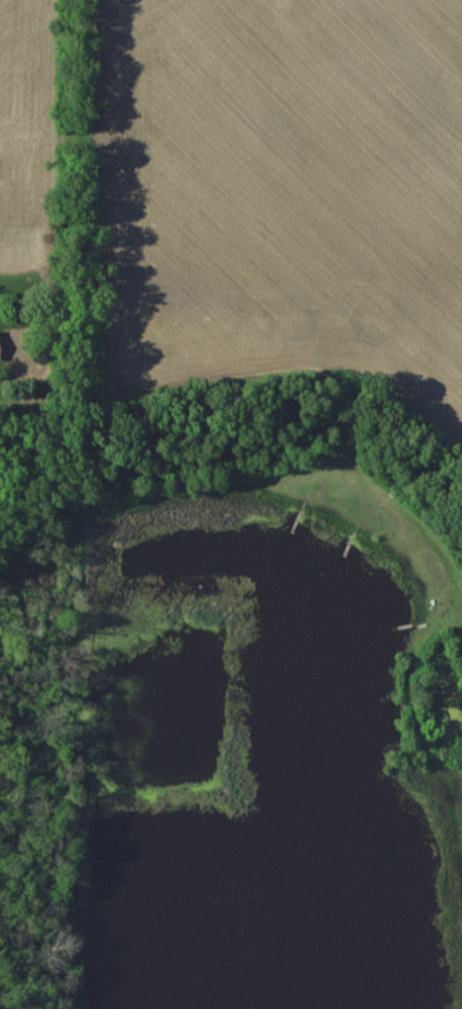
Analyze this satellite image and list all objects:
building: (0, 351)

